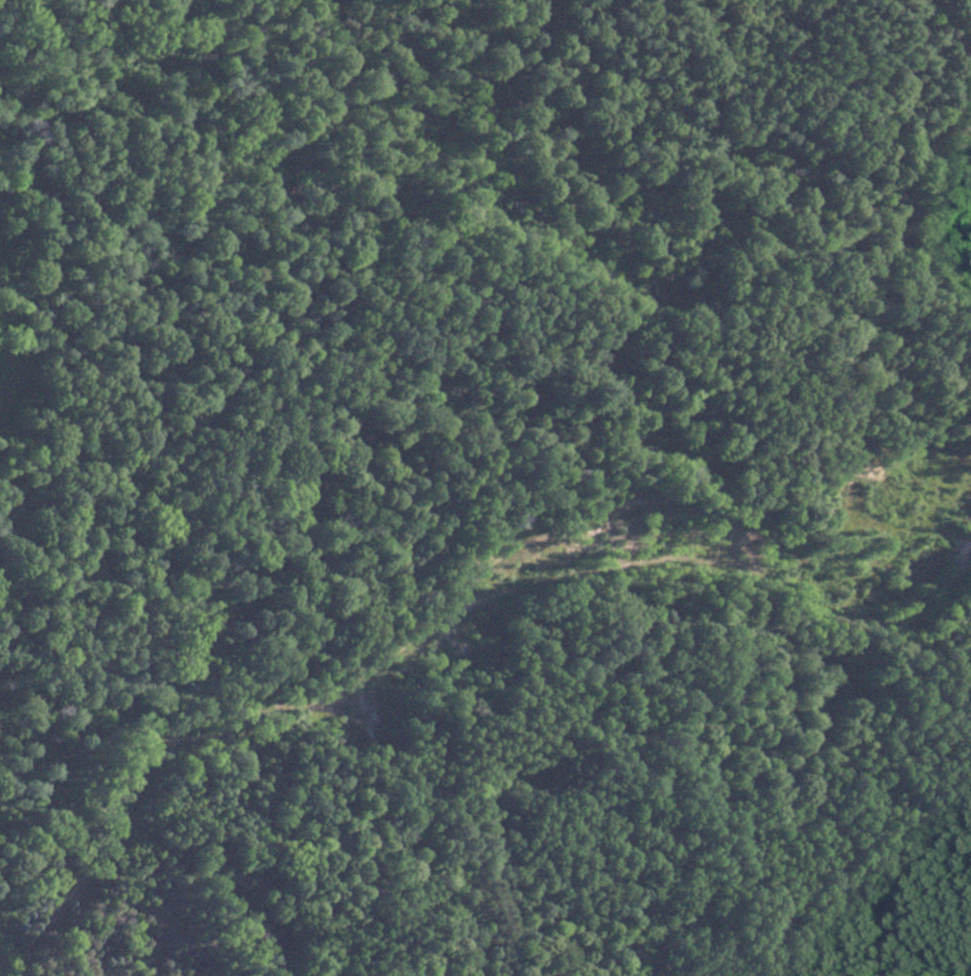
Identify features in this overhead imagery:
park: (522, 524)

